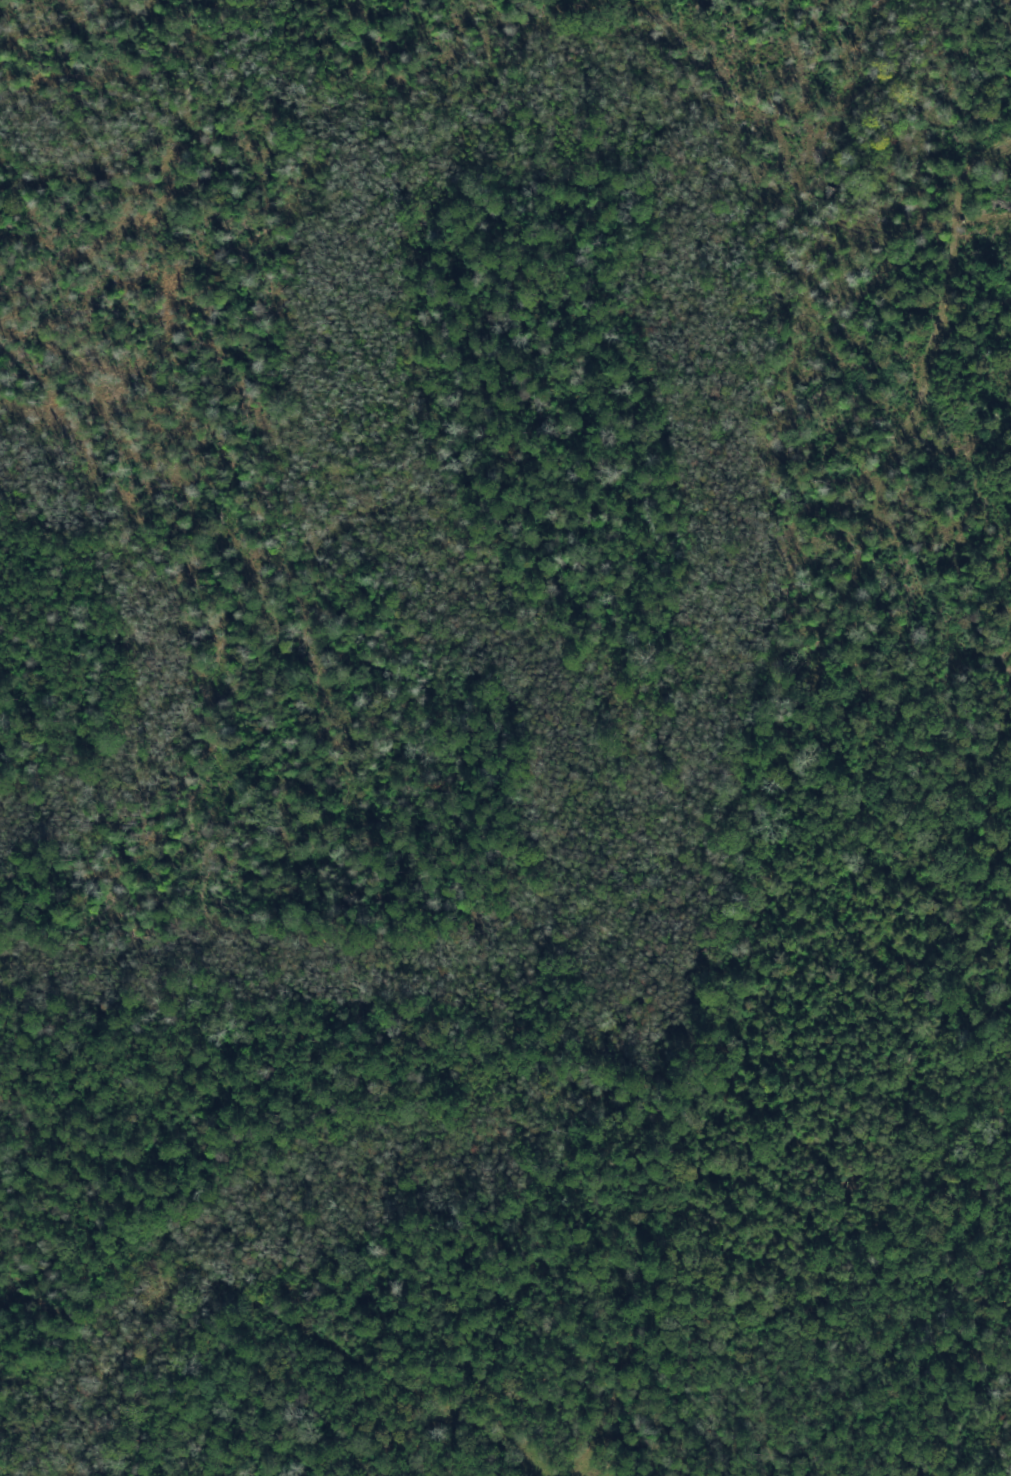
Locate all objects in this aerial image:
road: (613, 1354)

